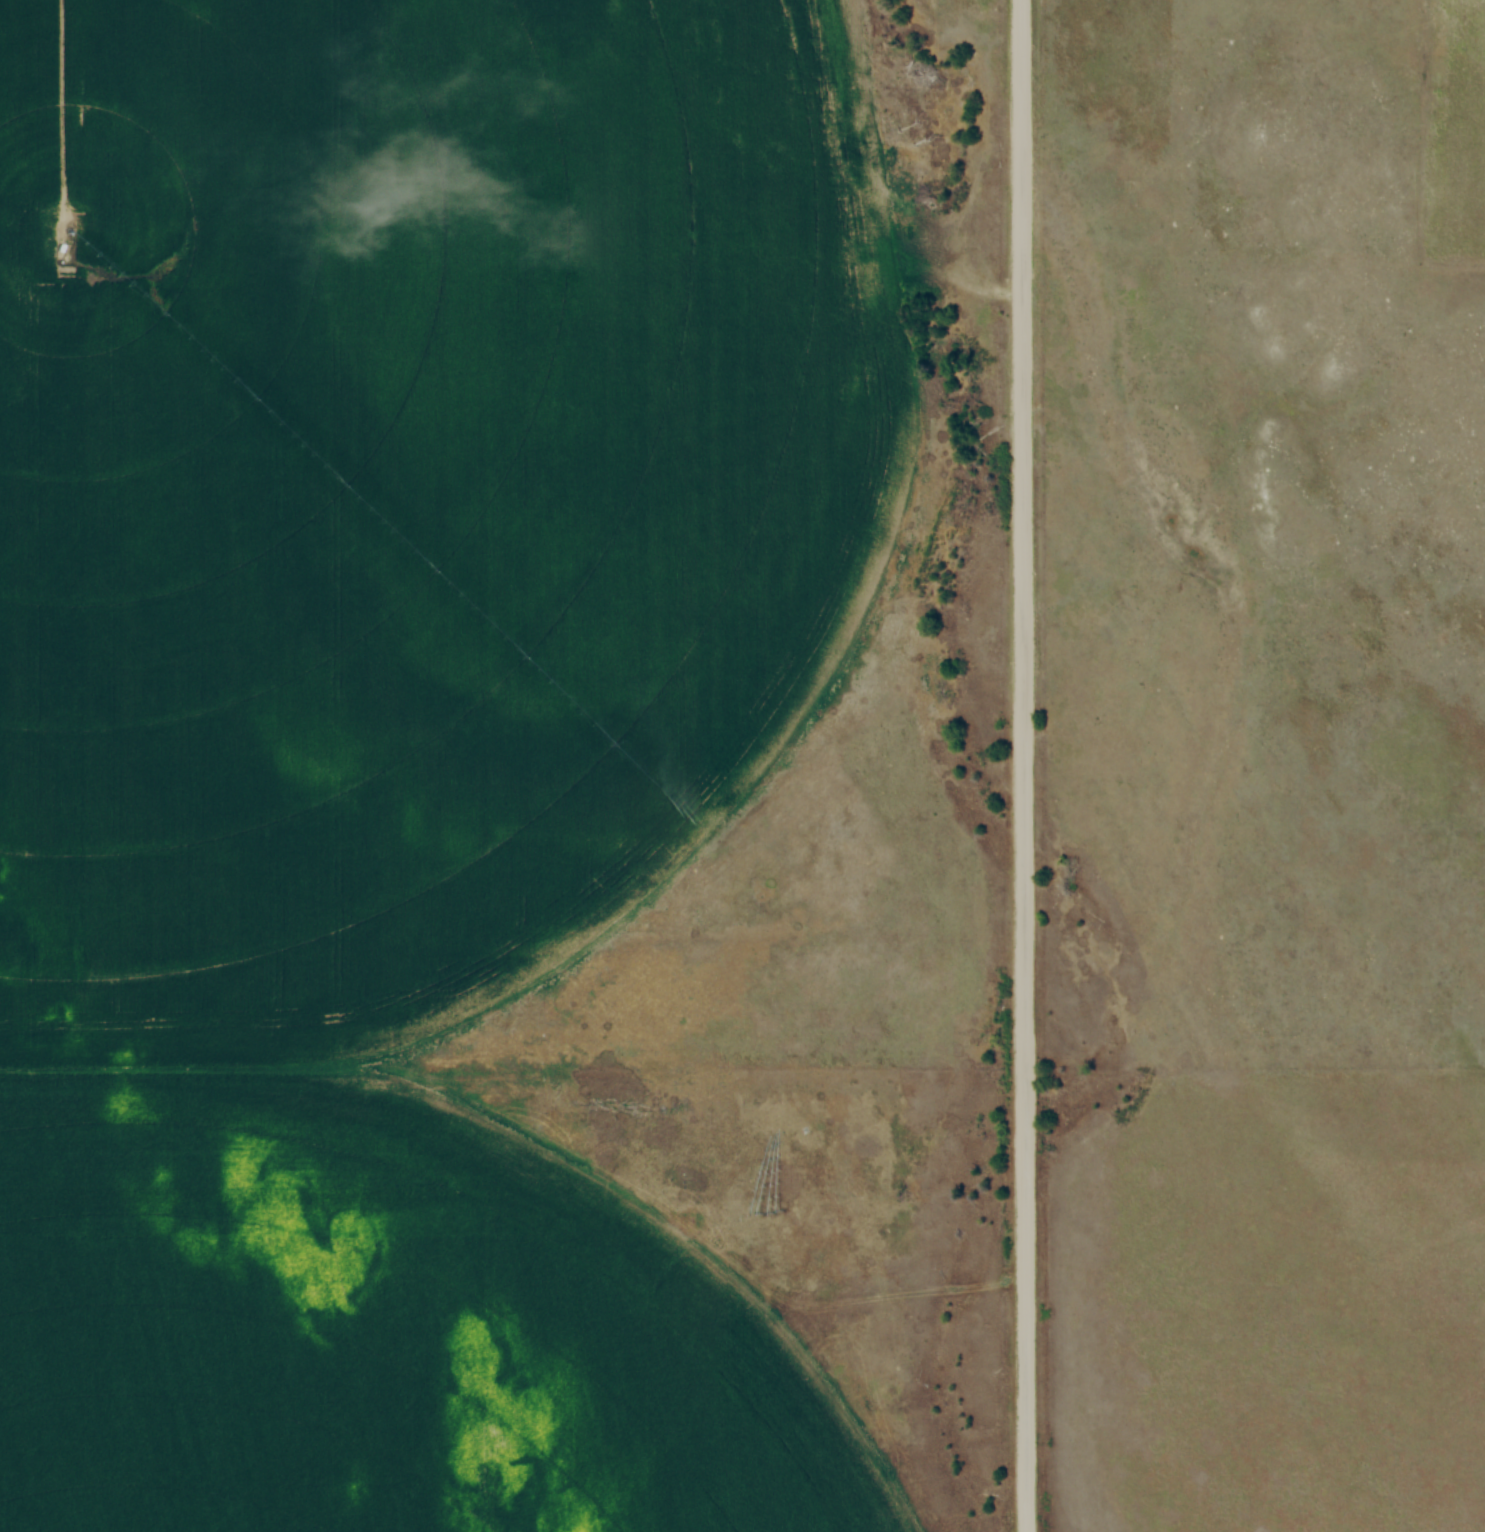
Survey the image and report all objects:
road: (1024, 766)

